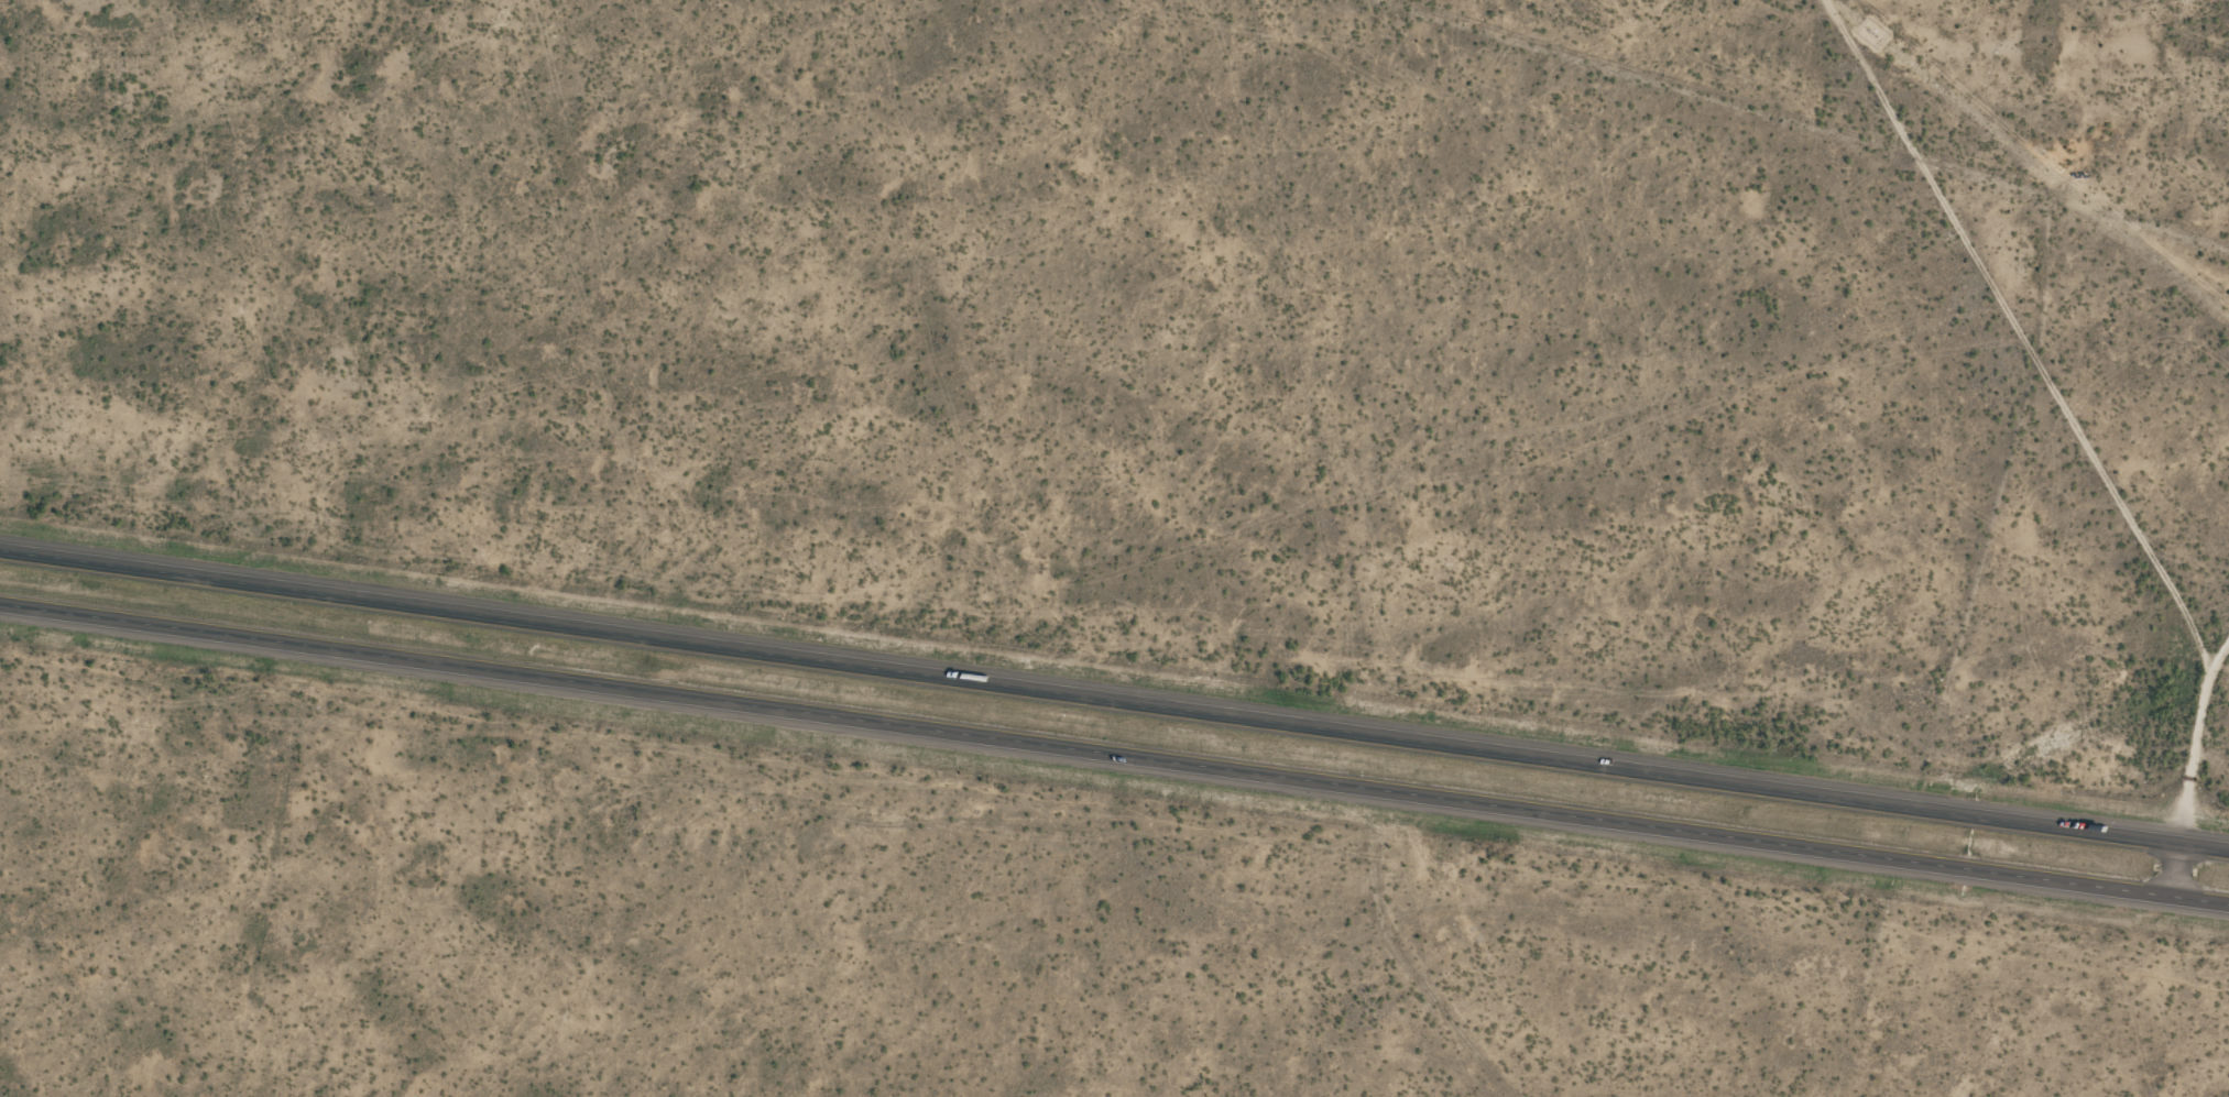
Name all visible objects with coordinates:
road: (1114, 702)
road: (1114, 756)
road: (2176, 873)

